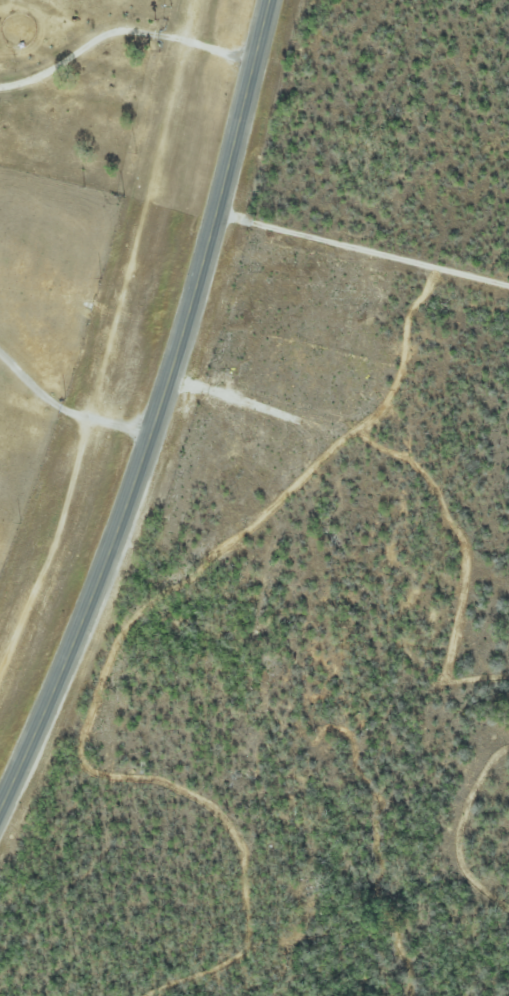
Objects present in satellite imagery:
road: (124, 26)
road: (364, 246)
road: (68, 404)
road: (160, 416)

